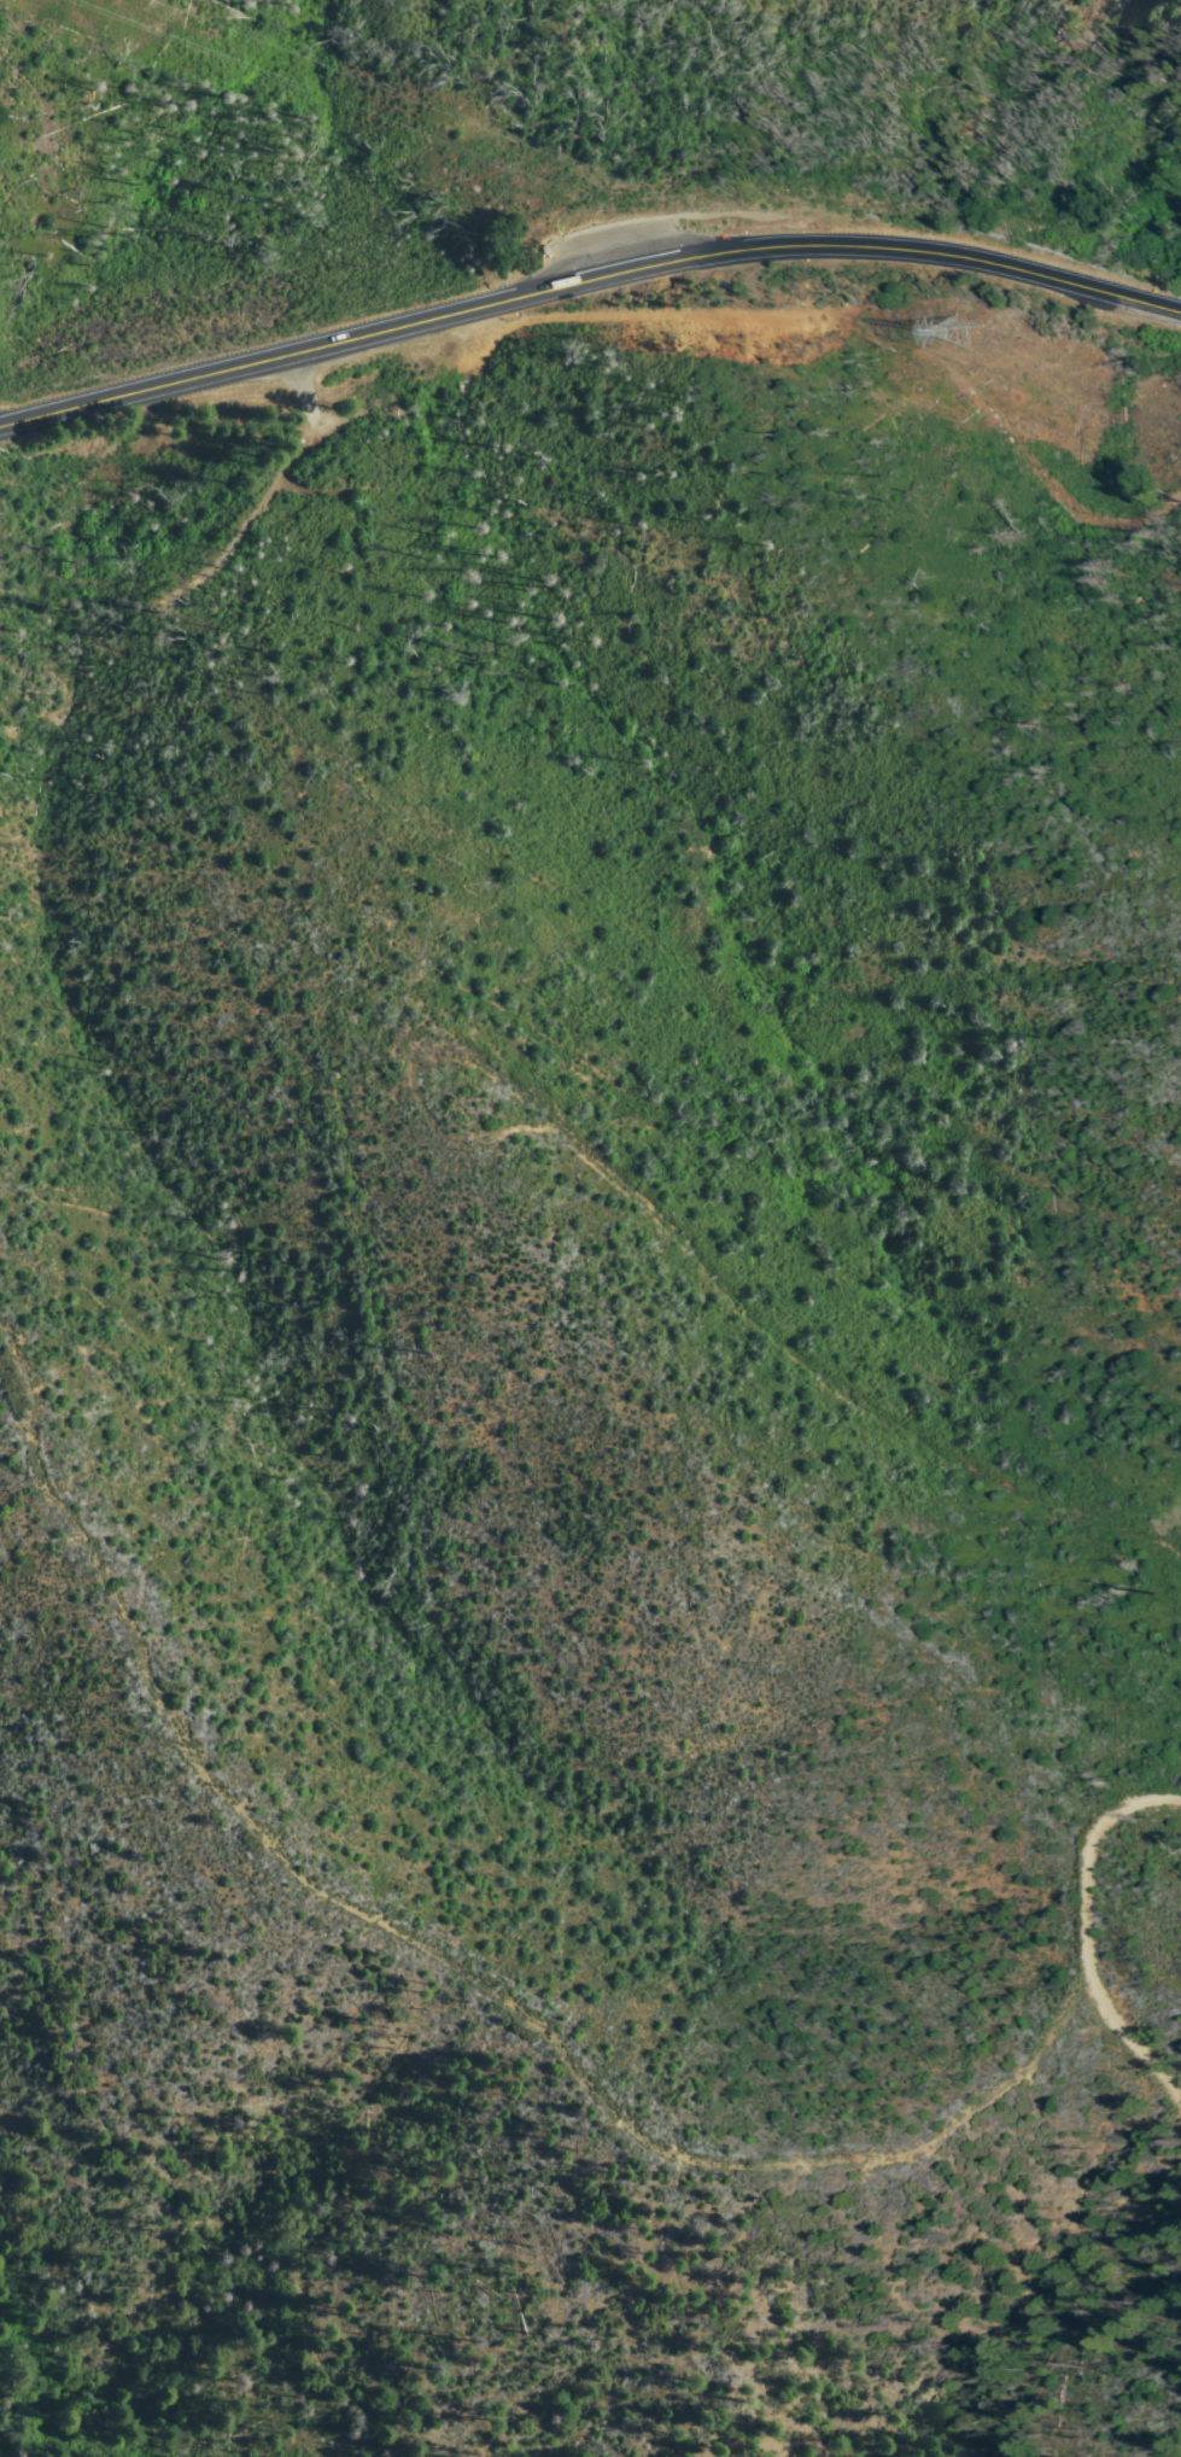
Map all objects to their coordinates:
parking lot: (603, 253)
road: (585, 278)
power tower: (981, 337)
road: (1088, 1937)

